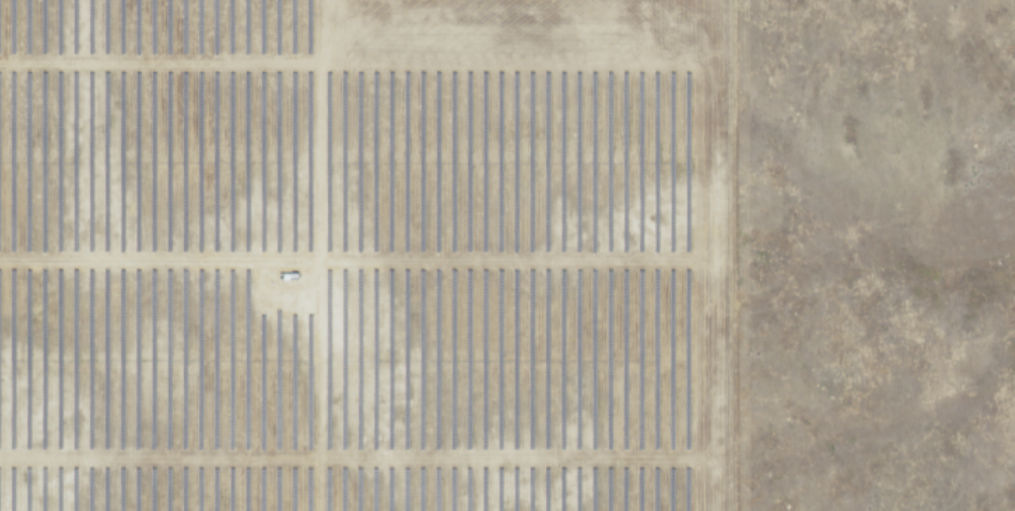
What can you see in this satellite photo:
solar farm: (364, 255)

